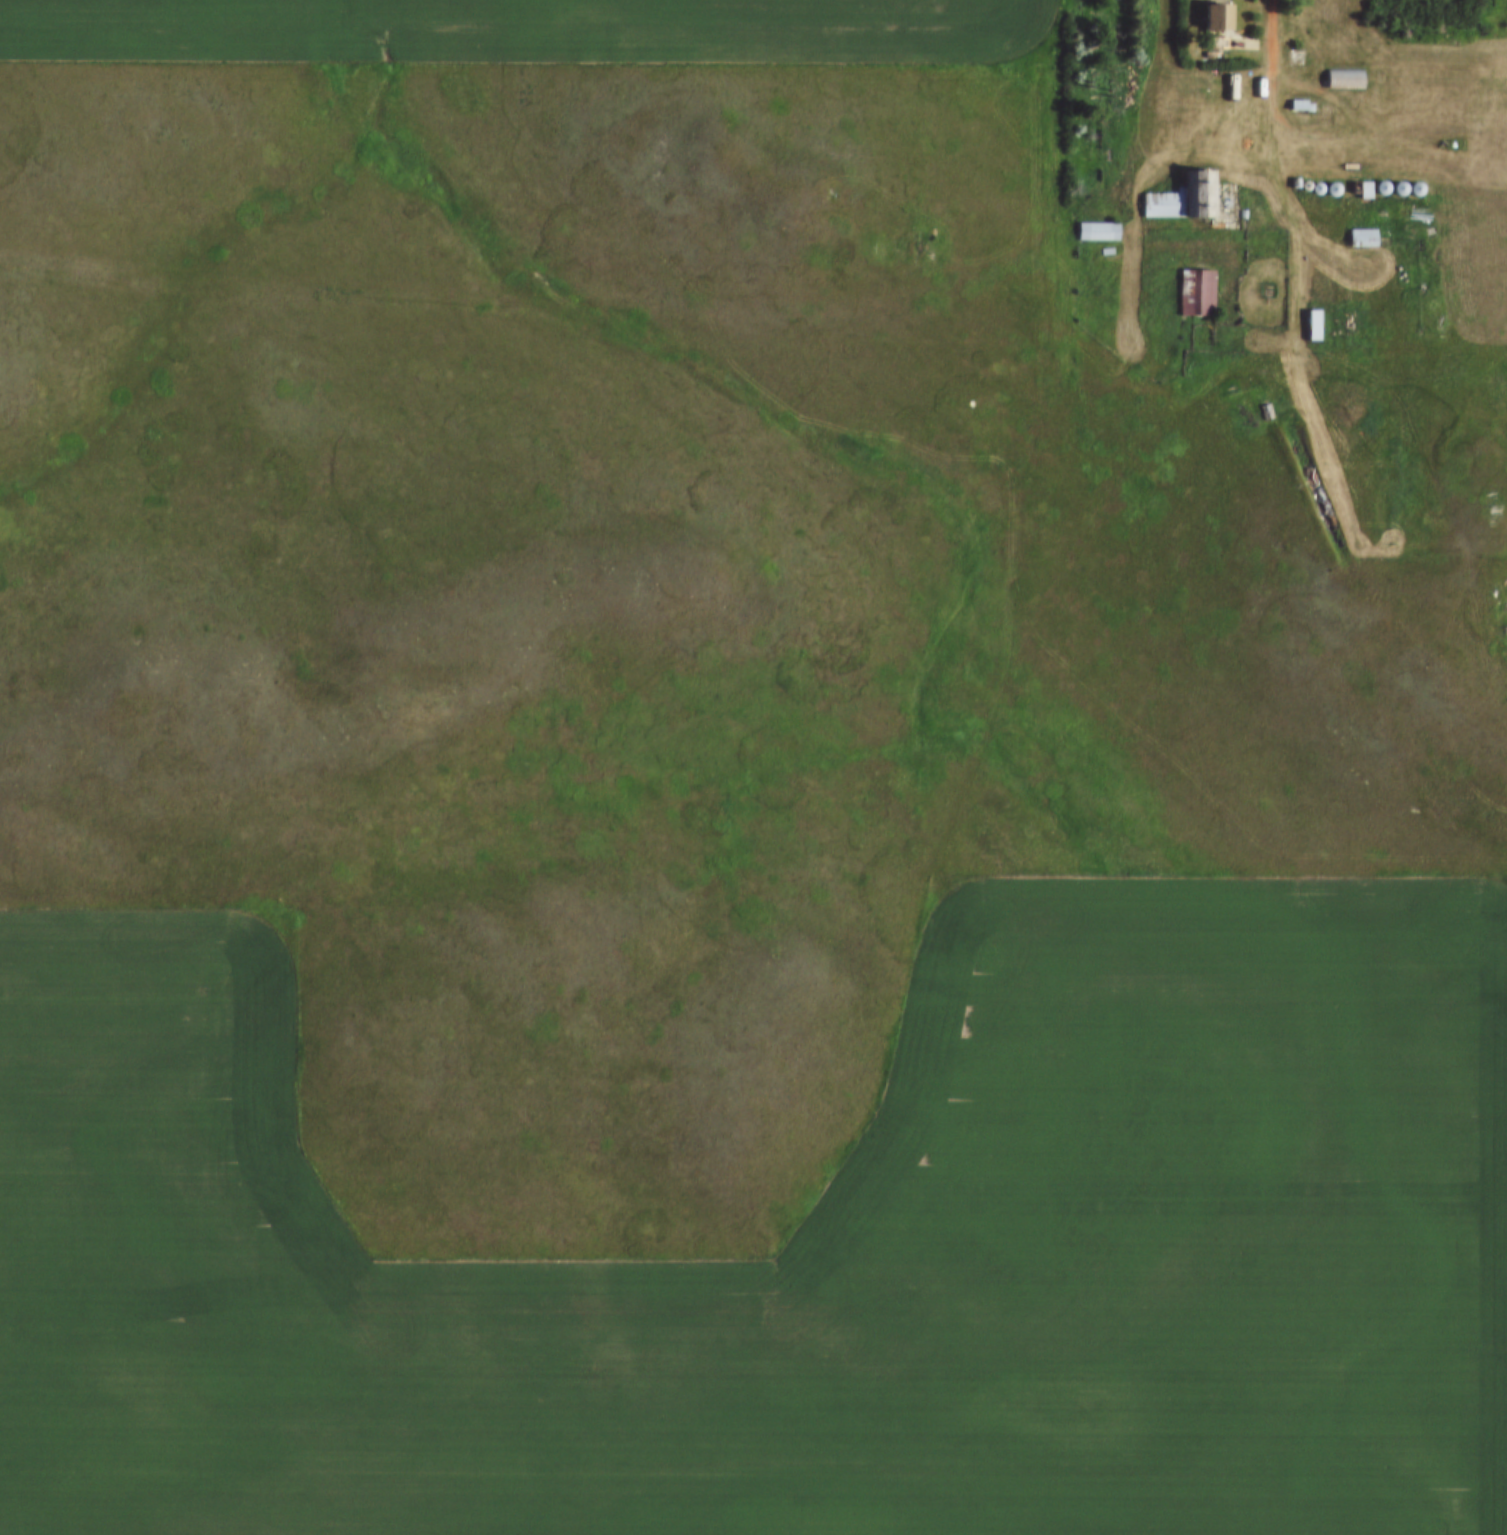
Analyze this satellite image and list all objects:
building: (1348, 78)
road: (1276, 110)
building: (1179, 203)
building: (1101, 231)
building: (1366, 237)
building: (1200, 293)
building: (1317, 325)

